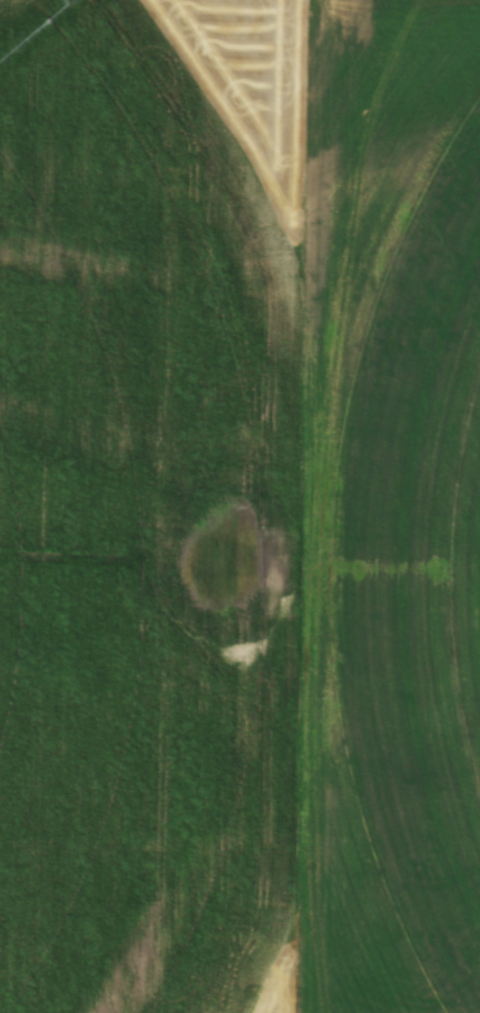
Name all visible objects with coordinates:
crop: (237, 493)

